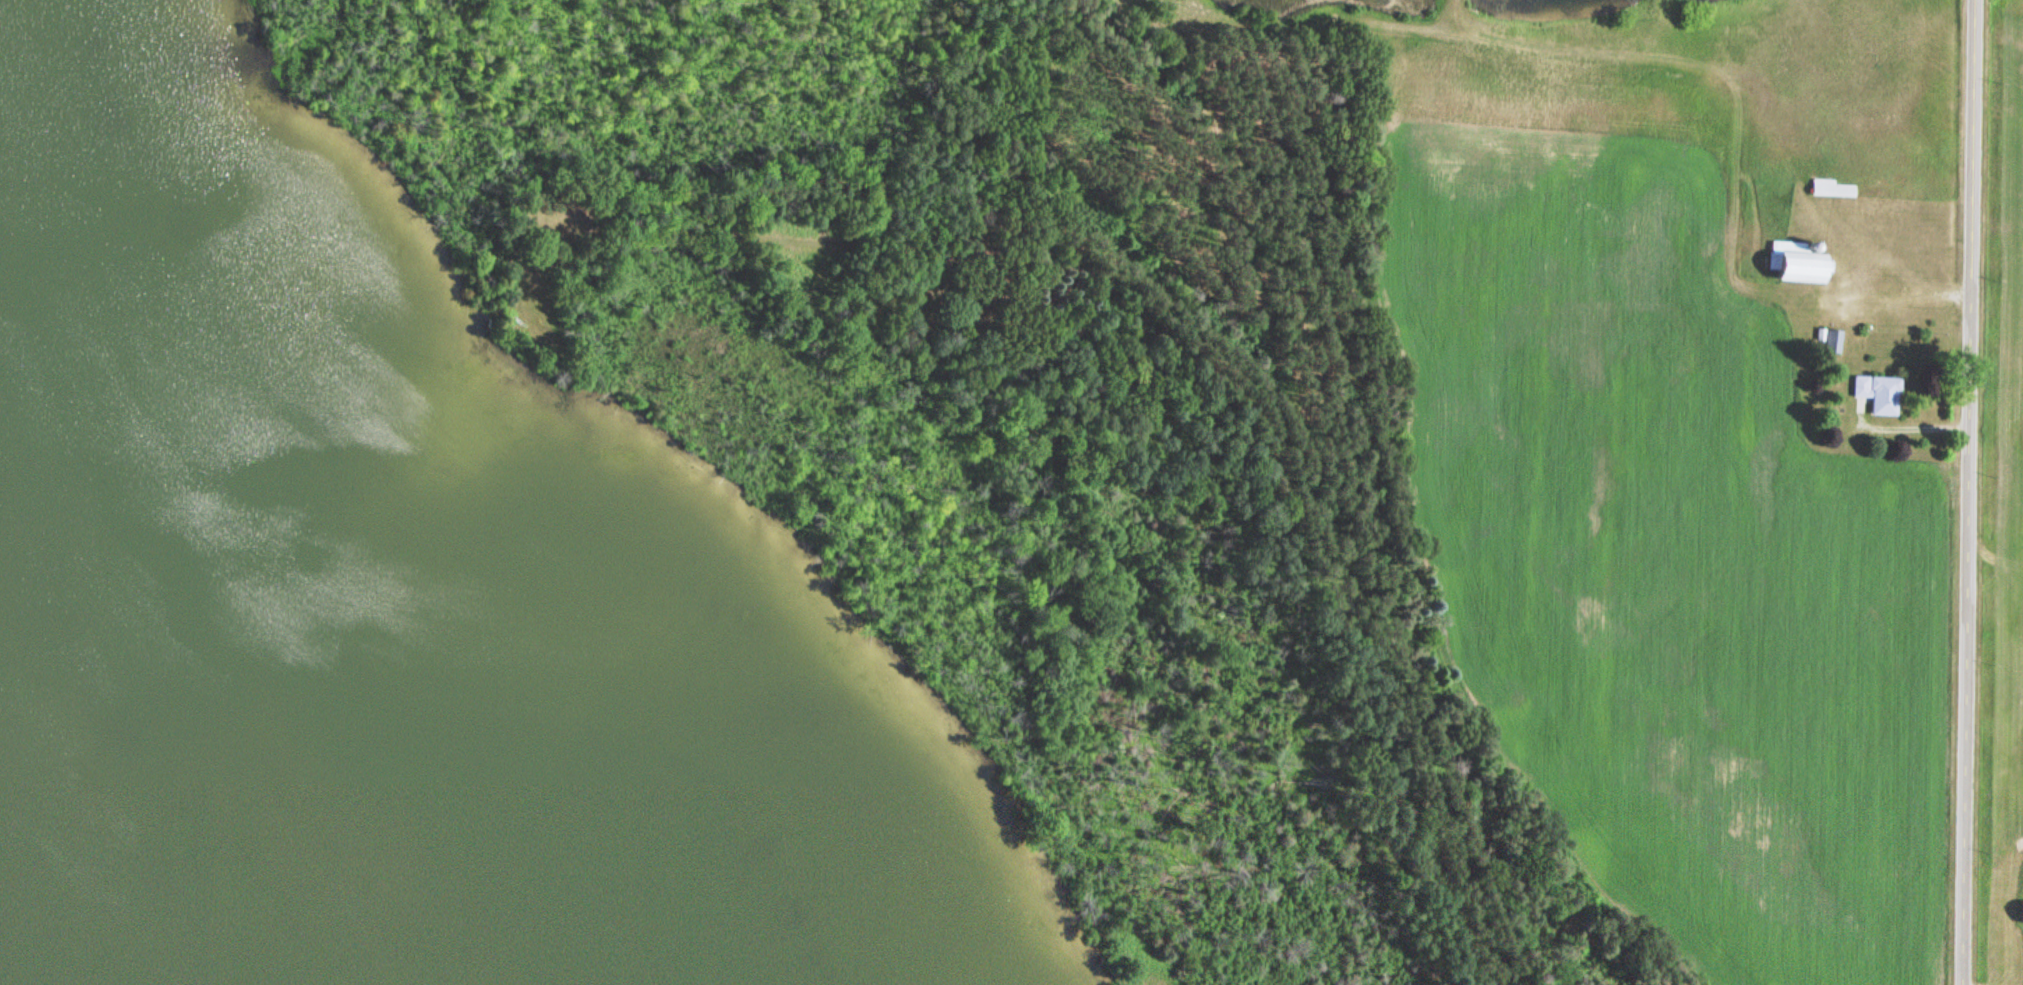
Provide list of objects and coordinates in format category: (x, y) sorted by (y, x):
building: (1793, 262)
building: (1876, 393)
road: (1969, 492)
building: (2019, 914)

